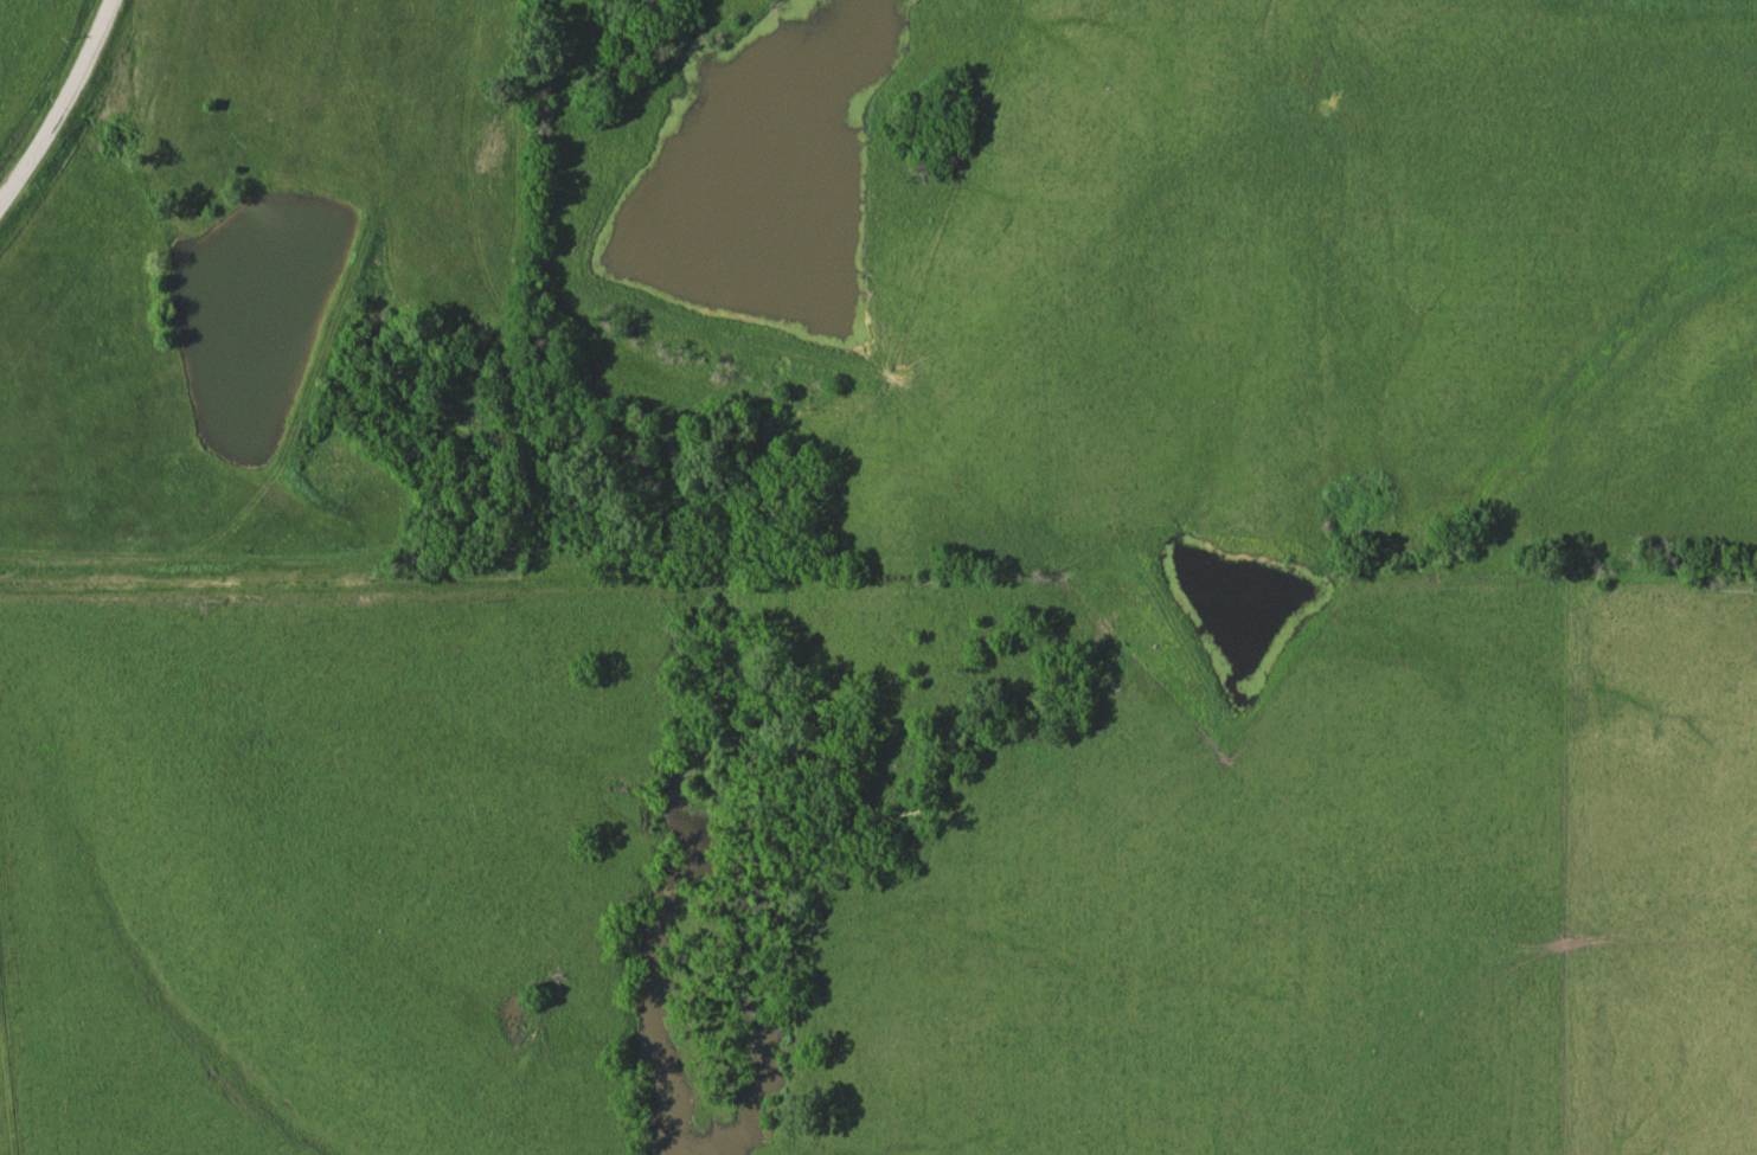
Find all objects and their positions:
road: (59, 97)

